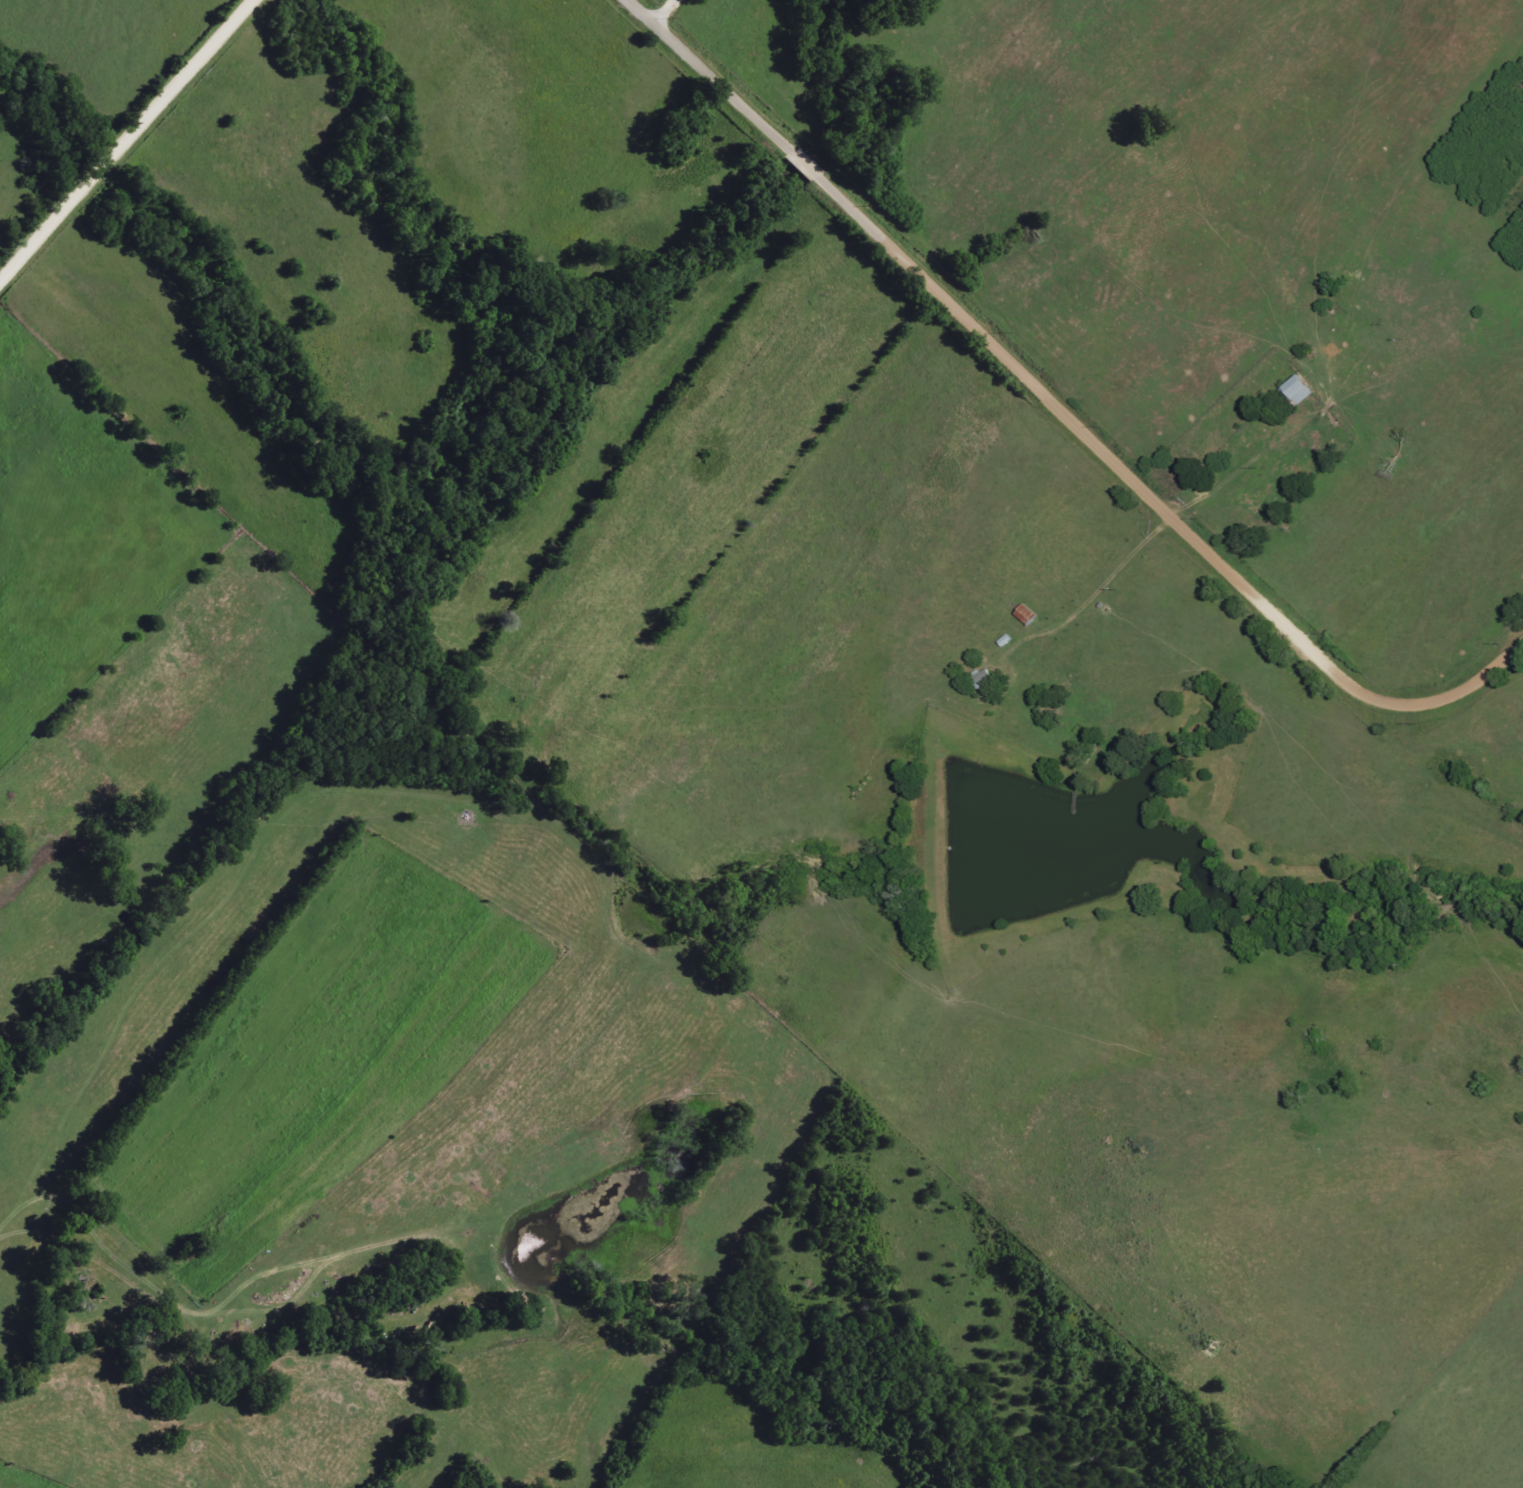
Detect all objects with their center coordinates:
road: (666, 13)
road: (129, 143)
building: (1296, 393)
road: (1059, 413)
road: (973, 636)

